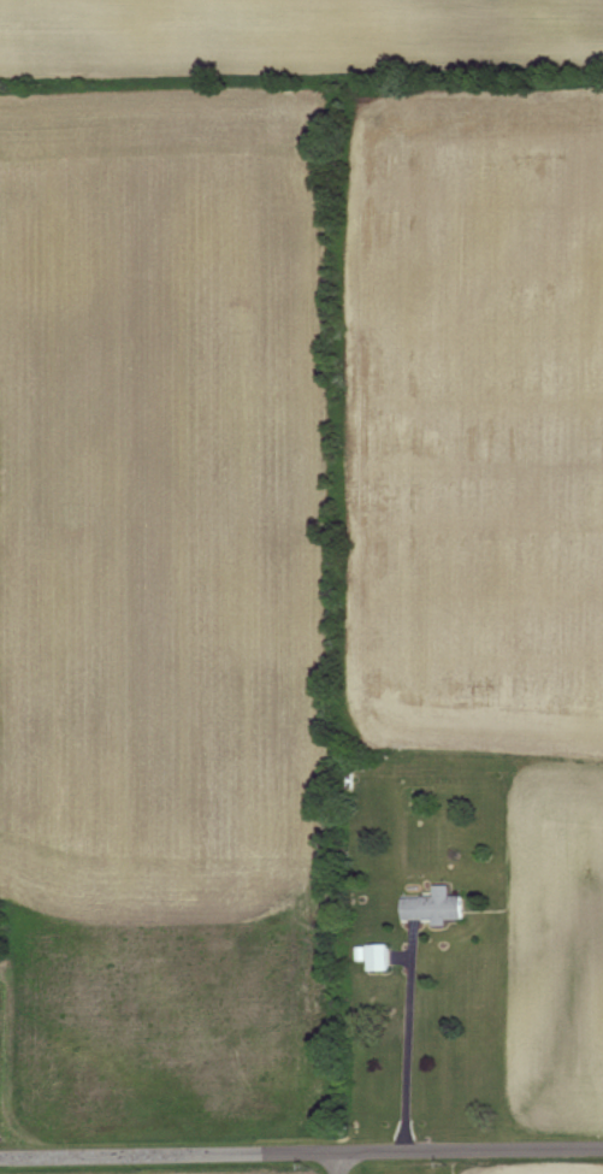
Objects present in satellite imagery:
building: (437, 907)
building: (382, 957)
road: (409, 1037)
road: (301, 1151)
road: (338, 1162)

